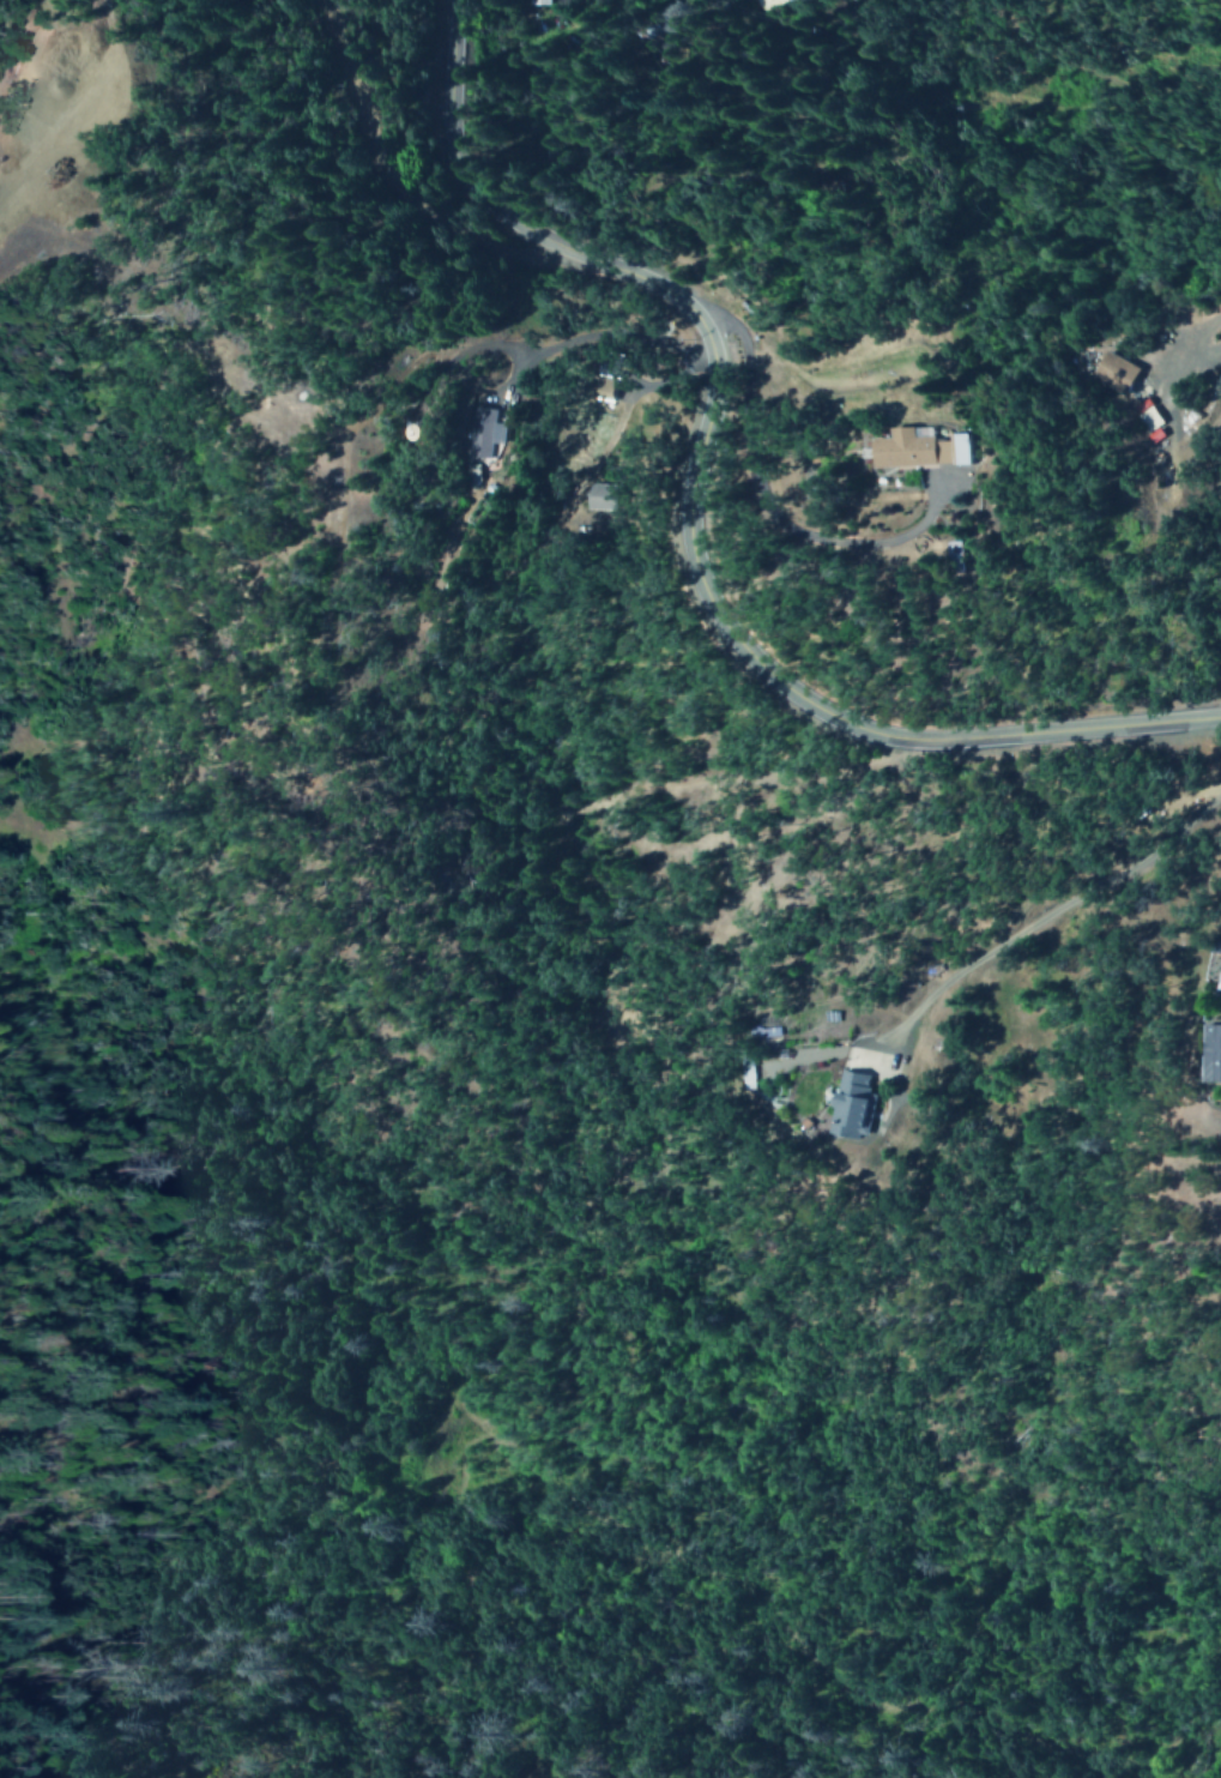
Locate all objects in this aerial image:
building: (543, 1)
road: (398, 194)
road: (597, 339)
road: (464, 354)
building: (1110, 370)
building: (1144, 420)
building: (482, 432)
building: (880, 442)
building: (930, 442)
building: (596, 496)
road: (690, 519)
building: (927, 553)
road: (1040, 921)
building: (1209, 1051)
building: (847, 1104)

